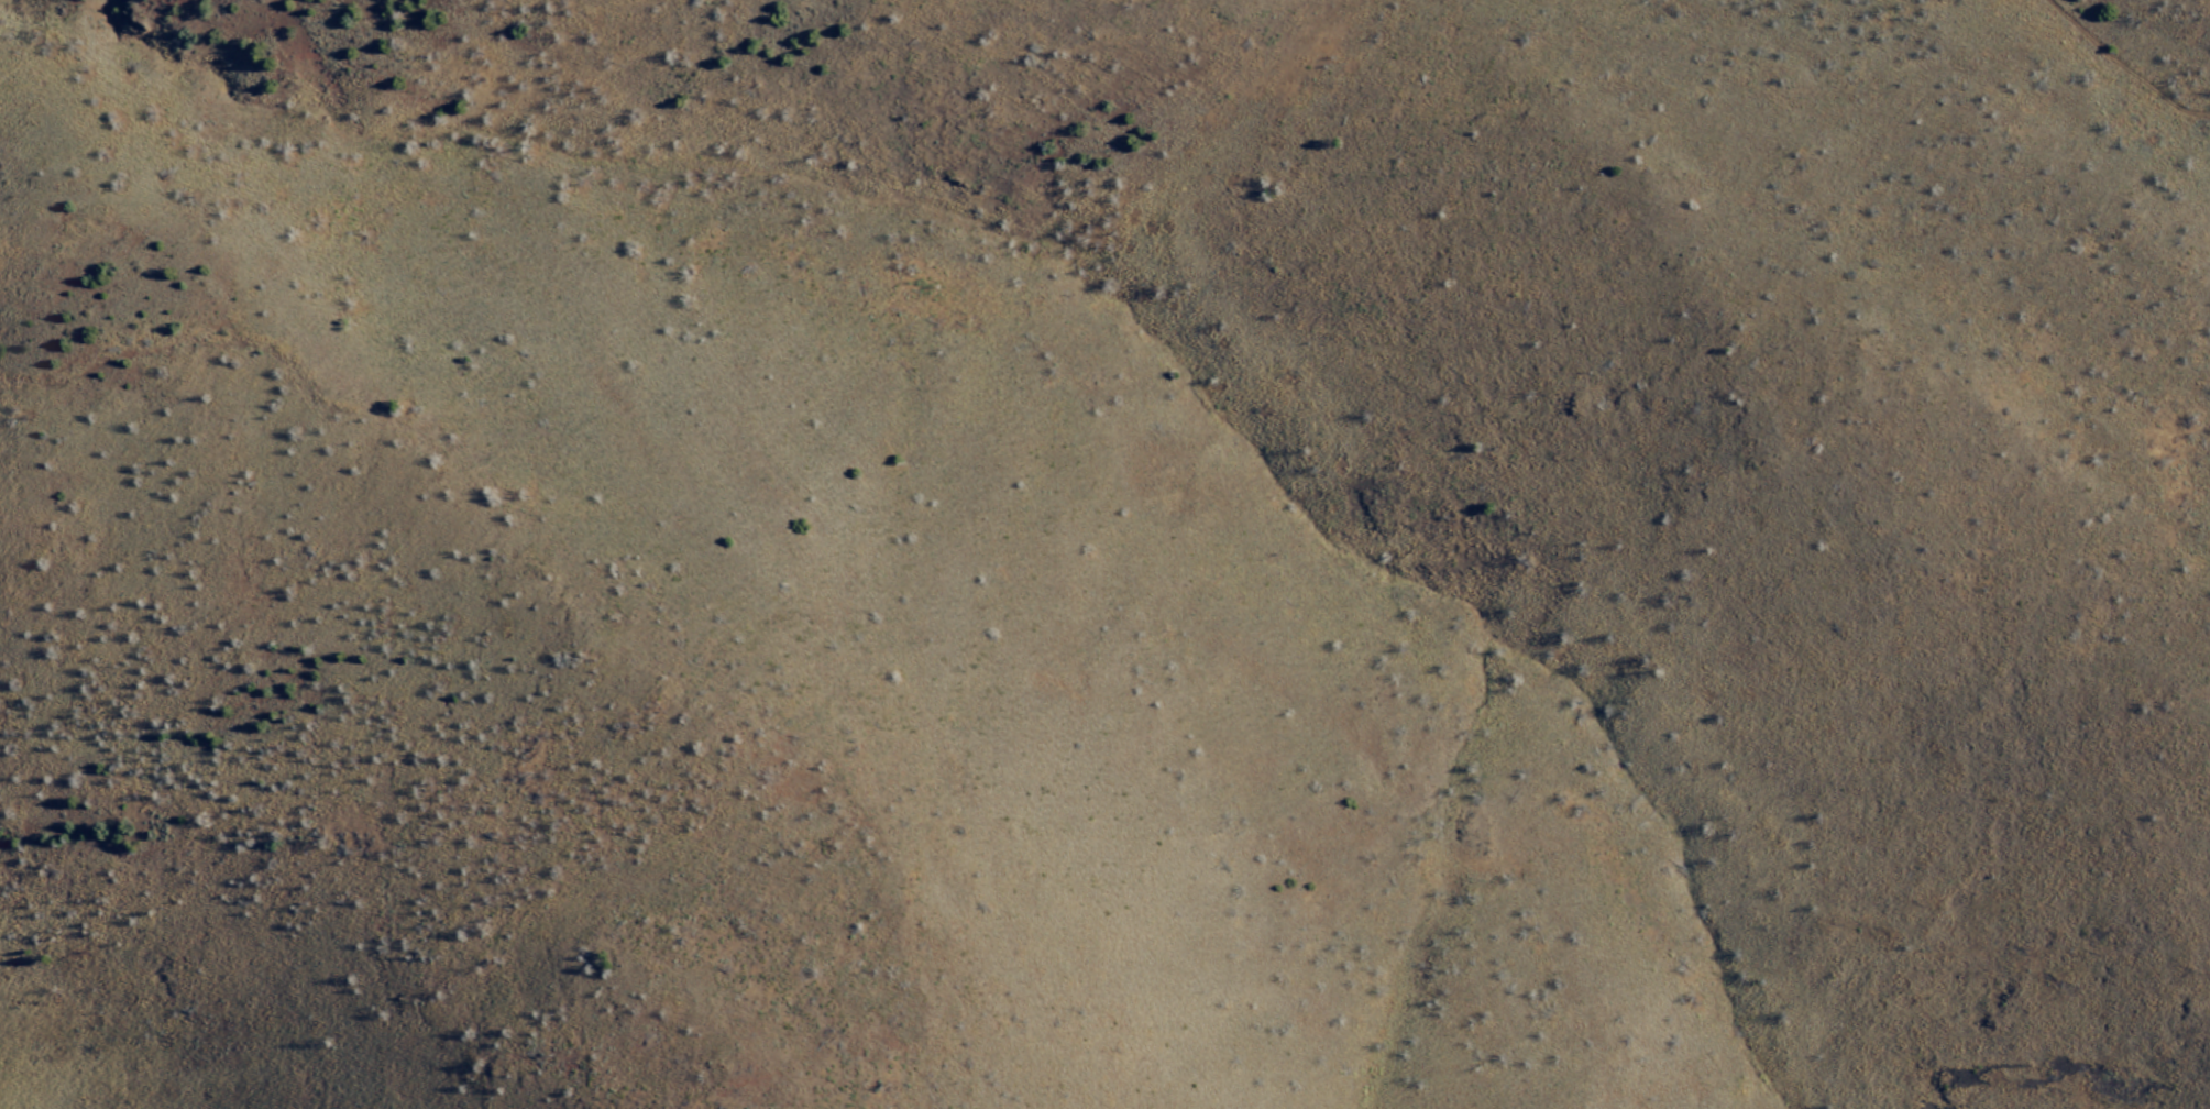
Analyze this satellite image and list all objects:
road: (2156, 41)

